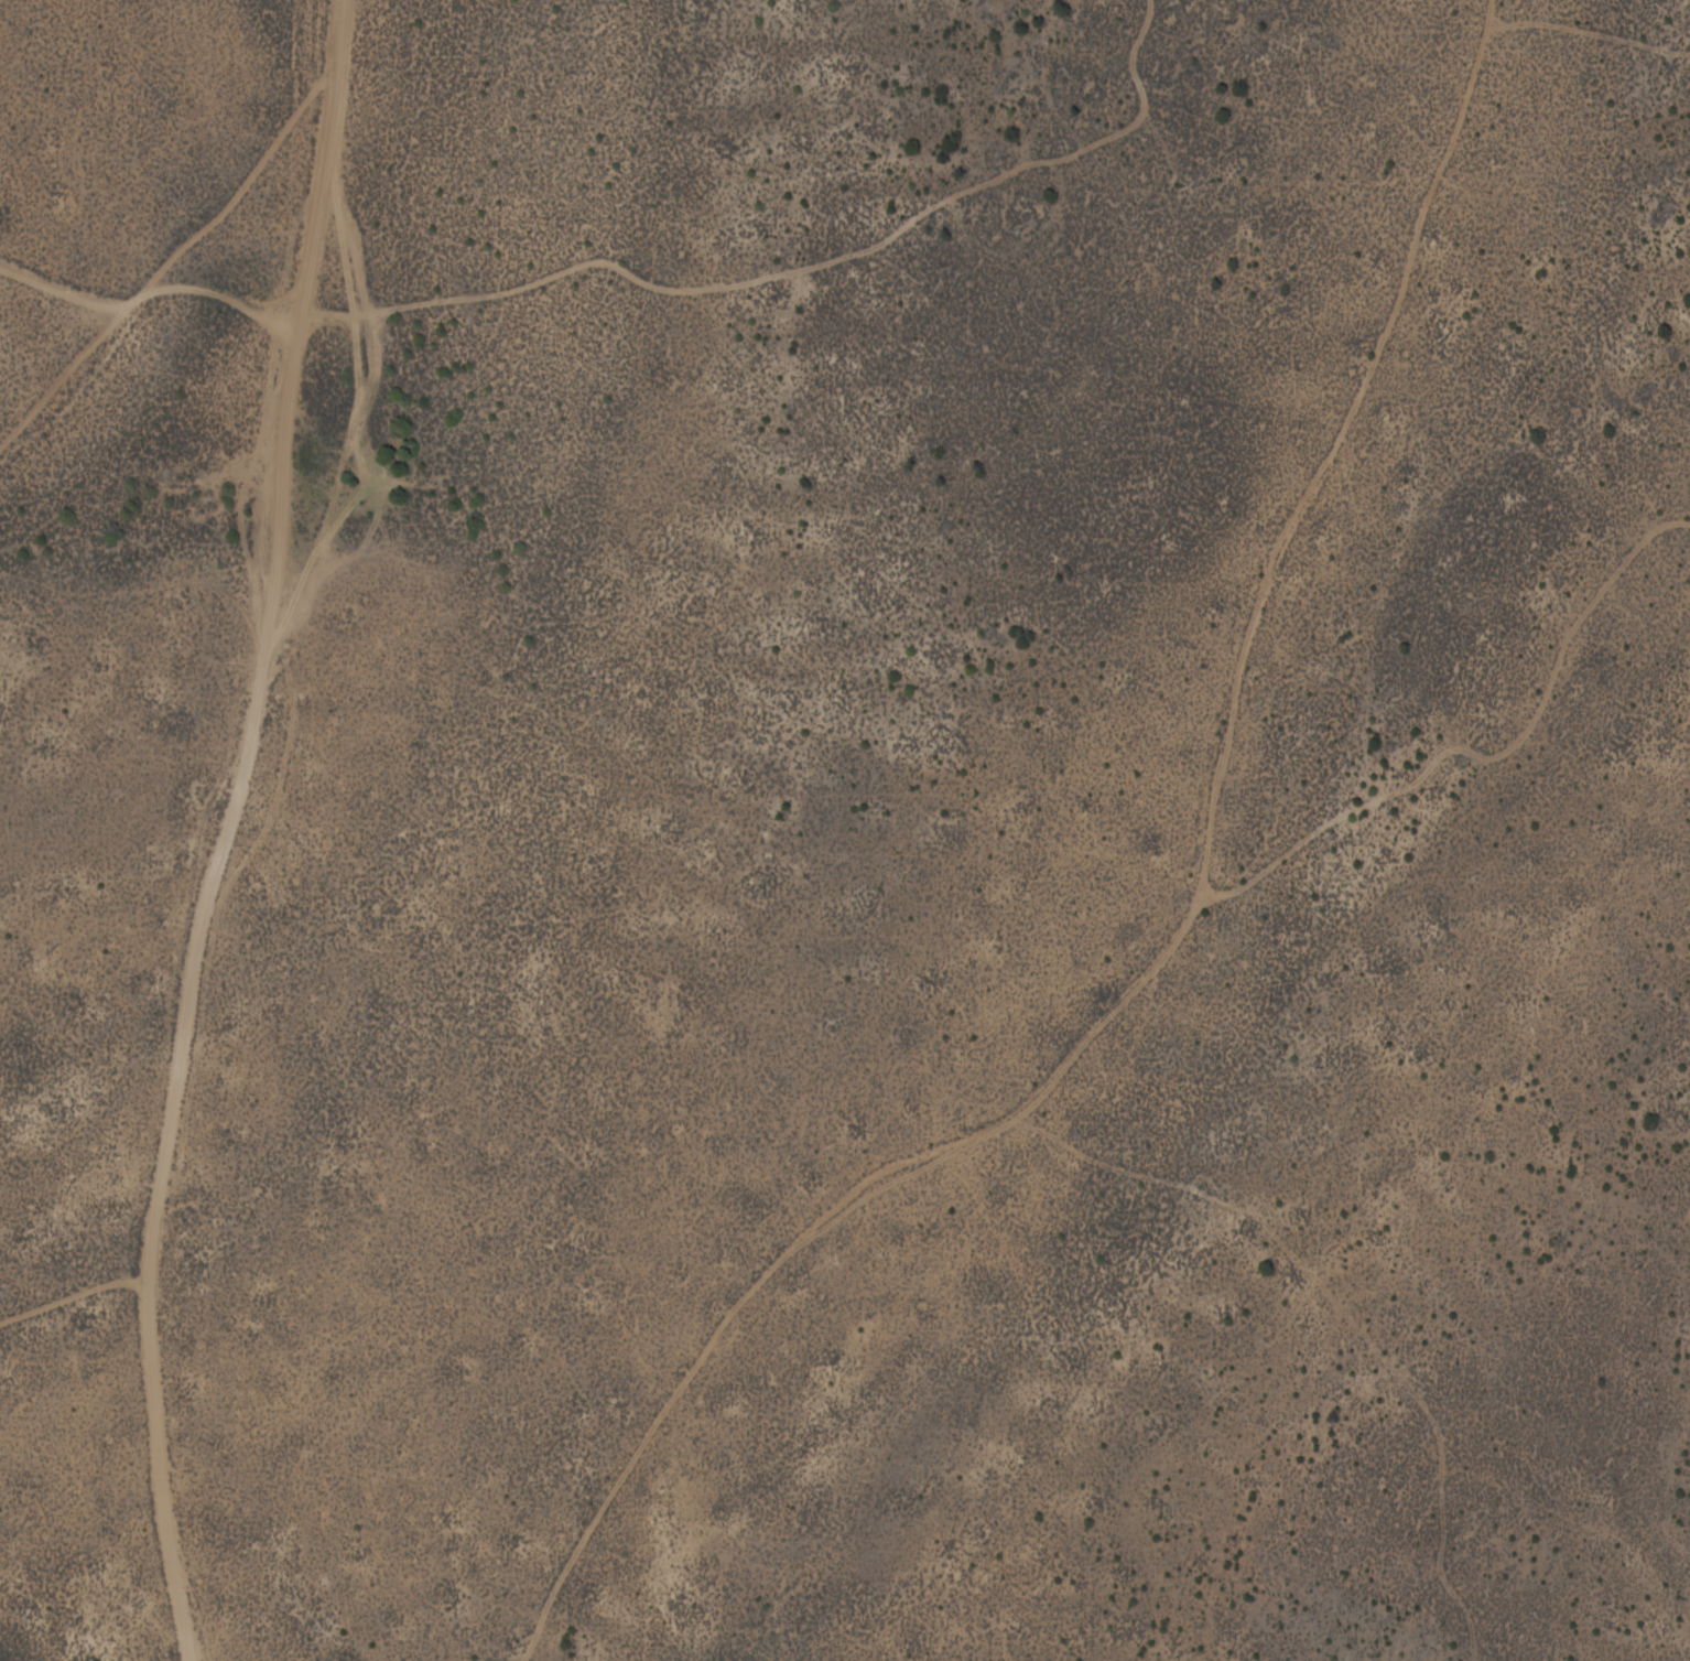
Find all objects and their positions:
road: (145, 255)
road: (55, 317)
road: (223, 826)
road: (1180, 926)

